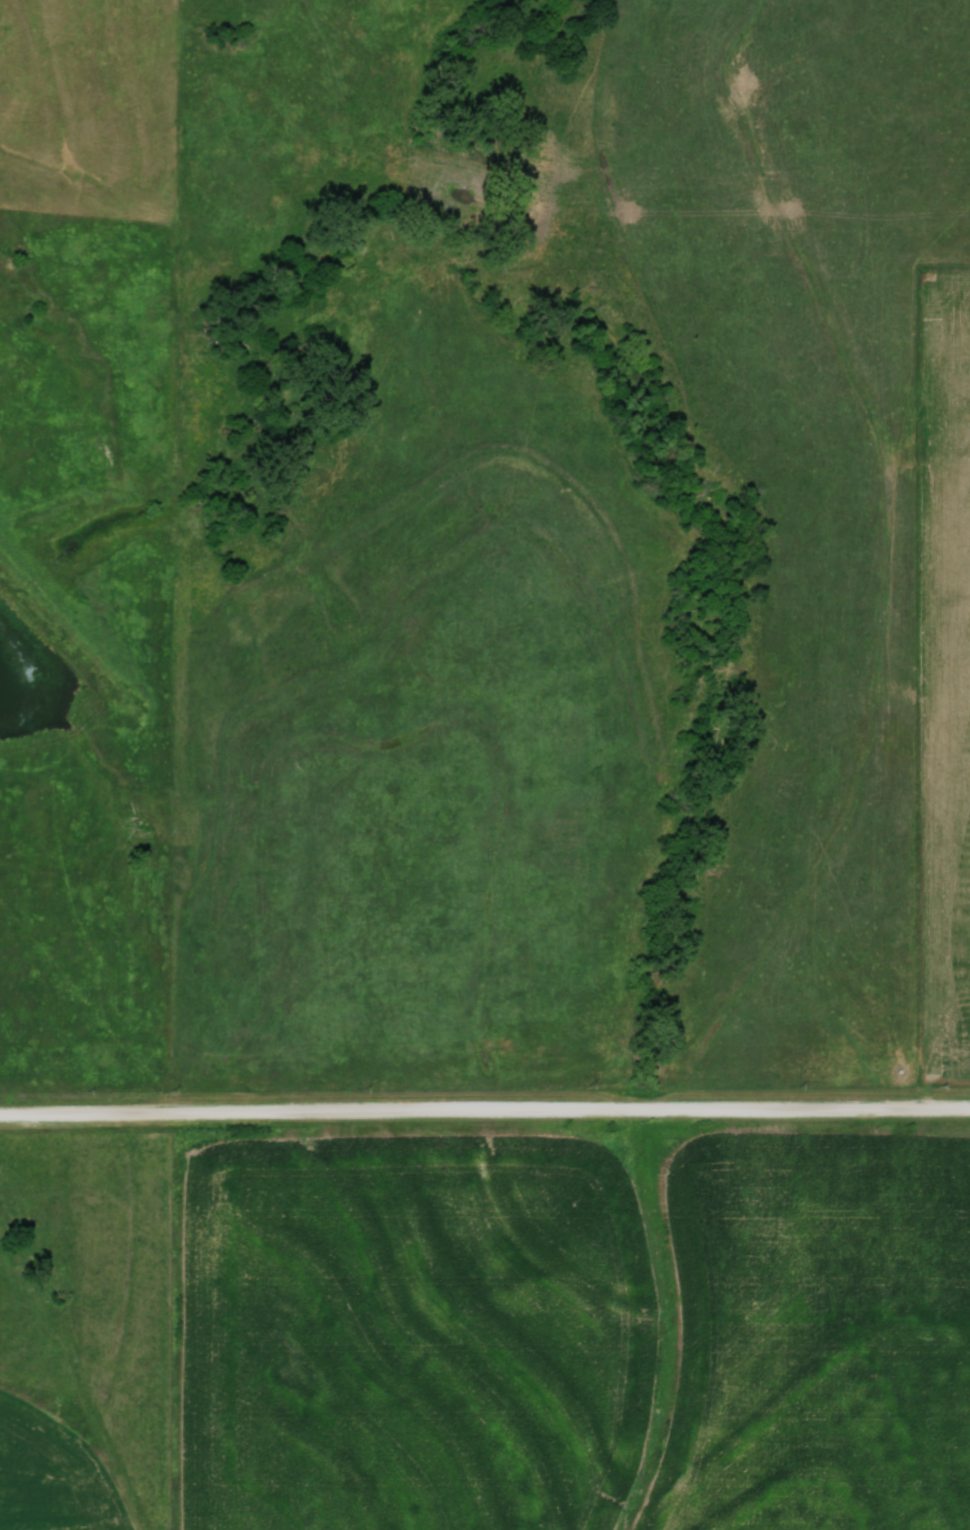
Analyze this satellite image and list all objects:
road: (485, 1114)

